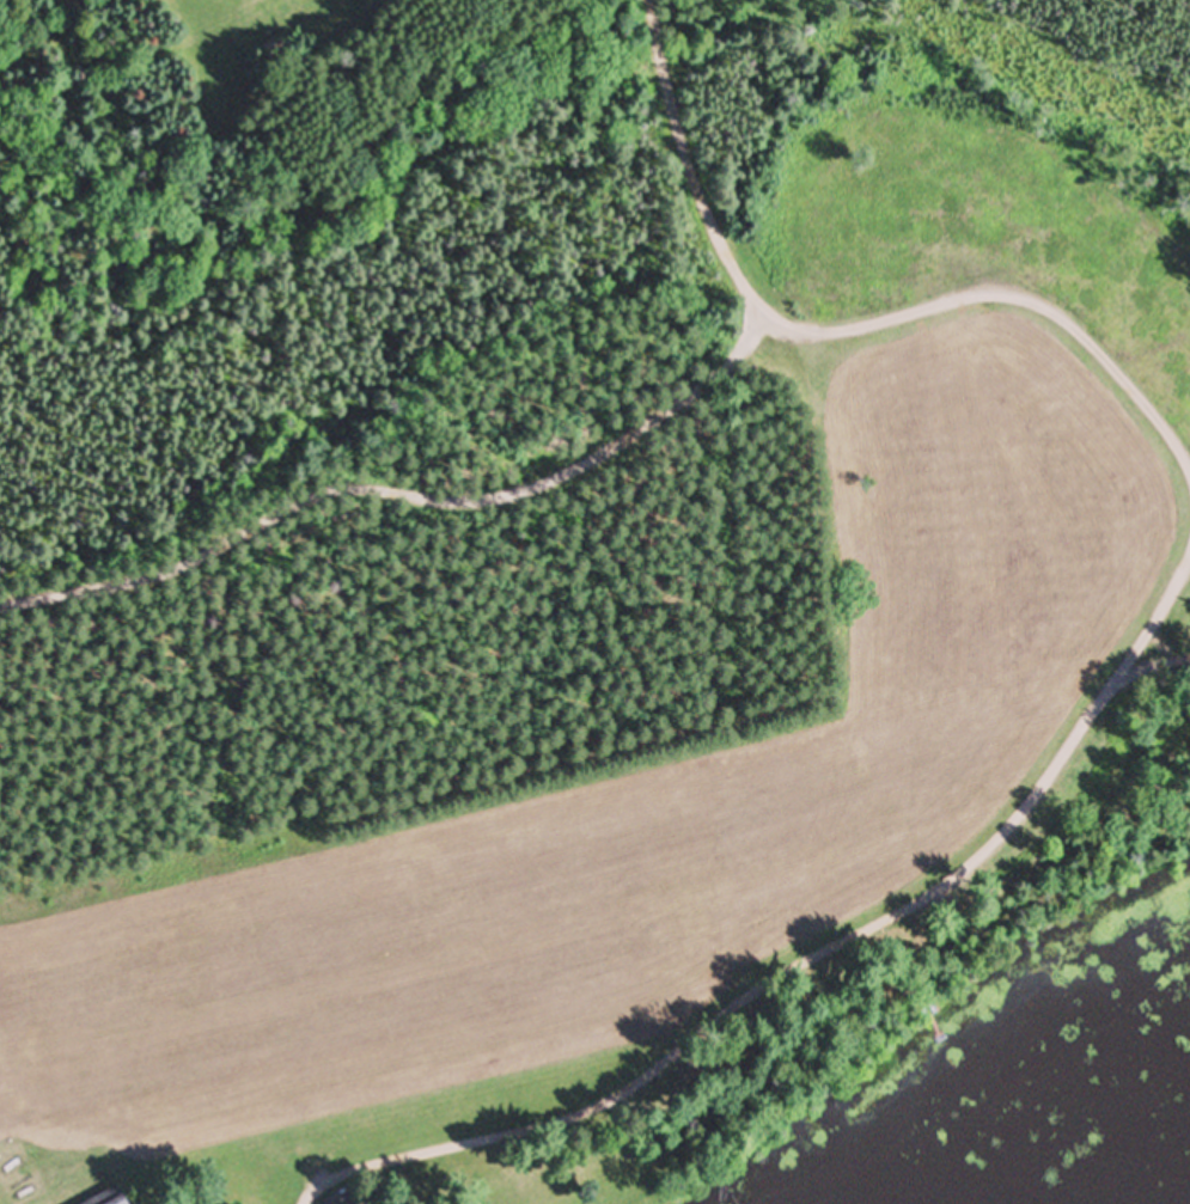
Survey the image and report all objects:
road: (852, 328)
road: (804, 961)
building: (105, 1198)
building: (342, 1200)

